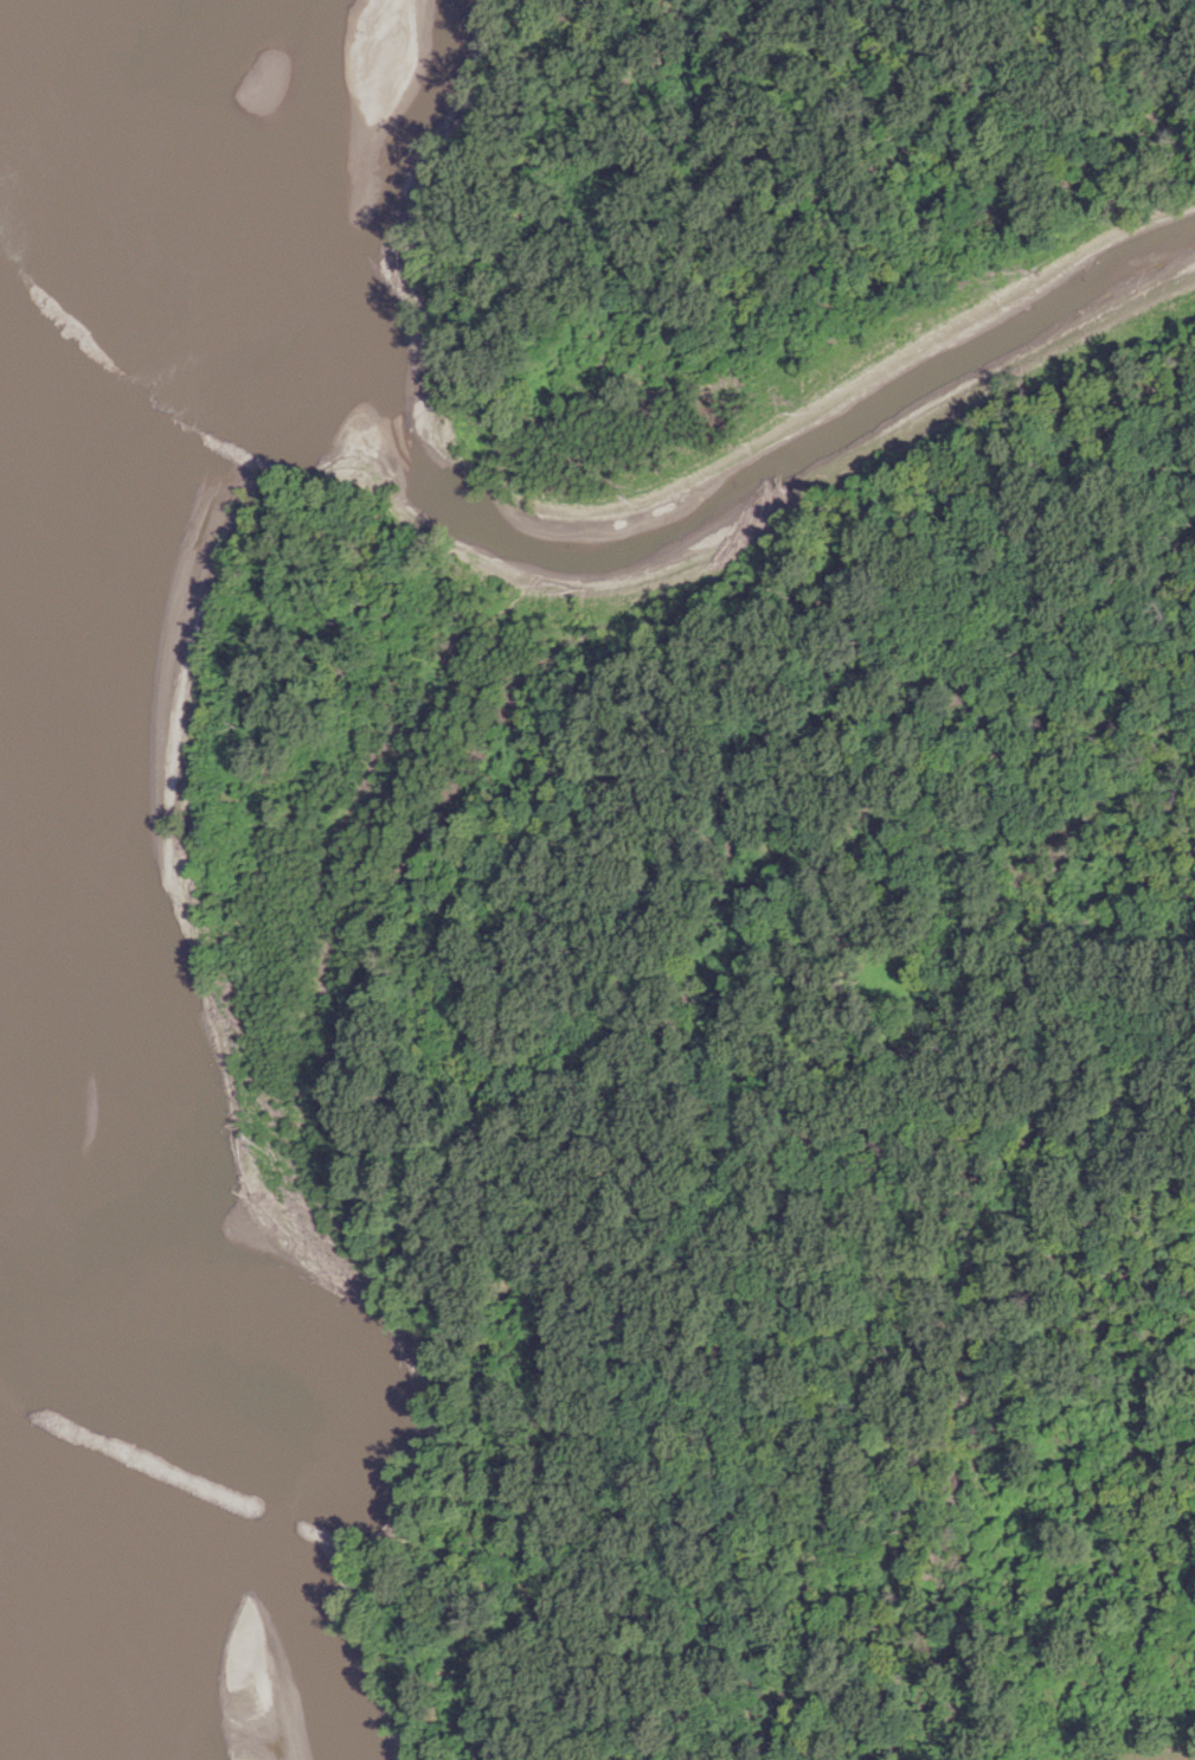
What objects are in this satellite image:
crop: (1114, 1751)

